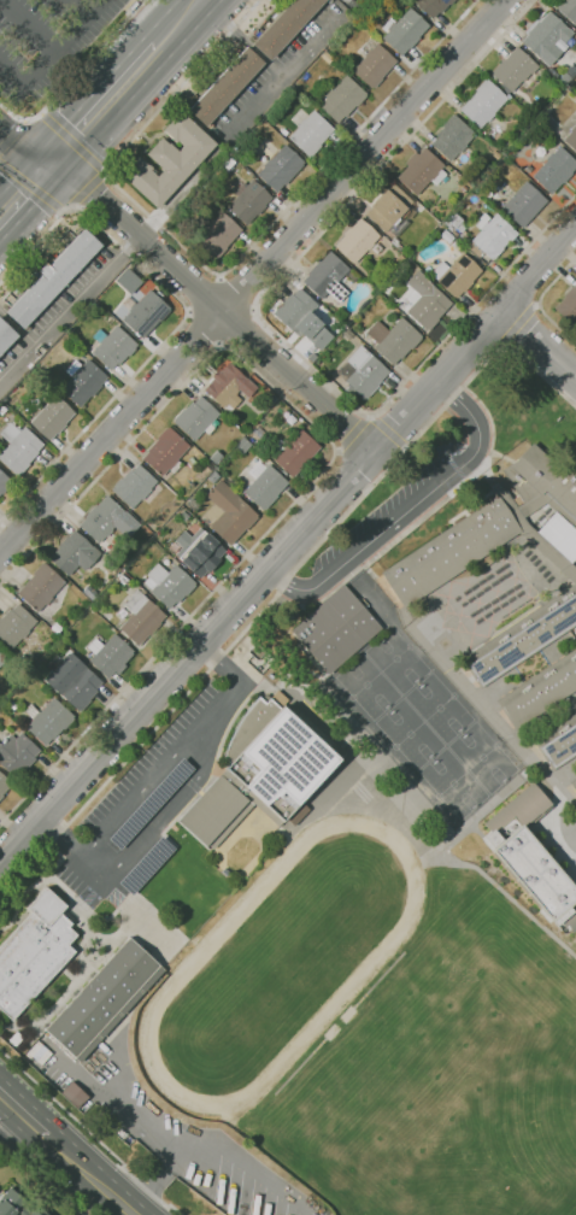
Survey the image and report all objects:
building: (329, 0)
building: (345, 1)
road: (171, 2)
road: (349, 4)
building: (433, 6)
road: (78, 8)
building: (568, 8)
road: (163, 17)
building: (287, 25)
building: (405, 30)
road: (28, 31)
building: (548, 37)
parking lot: (41, 47)
road: (54, 57)
road: (88, 61)
building: (374, 65)
building: (515, 69)
road: (281, 75)
road: (143, 84)
building: (227, 86)
road: (92, 95)
building: (342, 100)
building: (484, 102)
road: (43, 115)
traffic signals: (64, 127)
road: (18, 129)
building: (312, 133)
building: (453, 137)
building: (571, 137)
road: (5, 142)
road: (75, 142)
road: (18, 143)
road: (213, 155)
building: (170, 160)
building: (281, 168)
building: (556, 170)
building: (422, 171)
road: (106, 172)
road: (18, 176)
road: (30, 183)
traffic signals: (86, 184)
road: (88, 187)
building: (464, 189)
building: (249, 200)
building: (519, 202)
traffic signals: (36, 204)
road: (74, 204)
road: (34, 205)
road: (61, 209)
building: (390, 209)
building: (457, 225)
building: (221, 234)
building: (493, 237)
building: (357, 240)
building: (455, 241)
building: (396, 242)
building: (400, 259)
road: (217, 274)
building: (458, 274)
building: (54, 277)
road: (252, 277)
building: (328, 277)
building: (129, 281)
road: (237, 292)
road: (202, 294)
road: (207, 299)
building: (427, 300)
road: (540, 301)
building: (98, 305)
road: (536, 305)
building: (569, 305)
road: (71, 310)
building: (295, 310)
building: (147, 313)
road: (182, 321)
road: (518, 323)
road: (270, 325)
road: (239, 328)
road: (18, 329)
road: (201, 330)
building: (6, 335)
building: (395, 339)
road: (539, 344)
road: (502, 346)
building: (113, 347)
building: (363, 371)
building: (83, 381)
building: (229, 386)
building: (53, 417)
building: (198, 418)
road: (388, 432)
road: (352, 433)
building: (243, 445)
building: (19, 446)
building: (166, 452)
building: (295, 452)
road: (331, 460)
building: (213, 476)
building: (5, 482)
building: (135, 486)
building: (266, 487)
building: (157, 488)
parking lot: (389, 503)
building: (194, 504)
road: (411, 506)
building: (228, 512)
building: (184, 516)
building: (108, 520)
building: (560, 535)
road: (288, 550)
building: (454, 550)
building: (199, 551)
building: (75, 553)
building: (170, 585)
building: (42, 587)
road: (282, 587)
building: (141, 617)
building: (16, 624)
building: (57, 628)
building: (335, 628)
building: (67, 638)
building: (111, 655)
building: (2, 657)
park: (398, 659)
building: (74, 681)
park: (369, 686)
building: (541, 691)
building: (13, 705)
park: (440, 706)
building: (48, 720)
park: (410, 733)
building: (559, 742)
building: (17, 755)
park: (483, 756)
building: (263, 771)
road: (152, 779)
park: (453, 781)
building: (574, 783)
building: (4, 785)
road: (176, 799)
parking lot: (146, 803)
building: (296, 814)
building: (530, 858)
road: (2, 864)
building: (34, 952)
track: (193, 962)
building: (106, 999)
building: (17, 1039)
building: (72, 1094)
road: (4, 1097)
road: (25, 1107)
road: (90, 1132)
road: (199, 1152)
road: (98, 1172)
road: (42, 1175)
road: (155, 1176)
building: (16, 1204)

